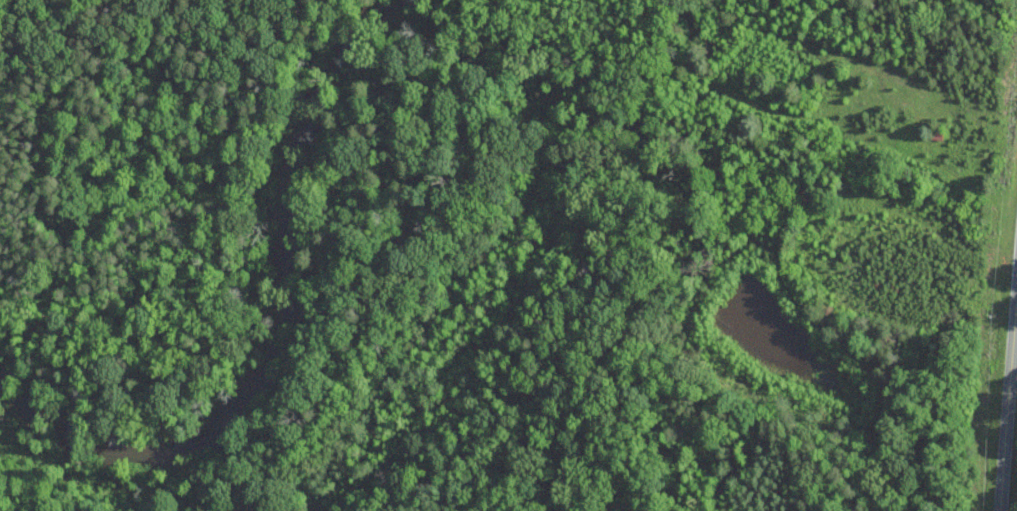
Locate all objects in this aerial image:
road: (1009, 399)

